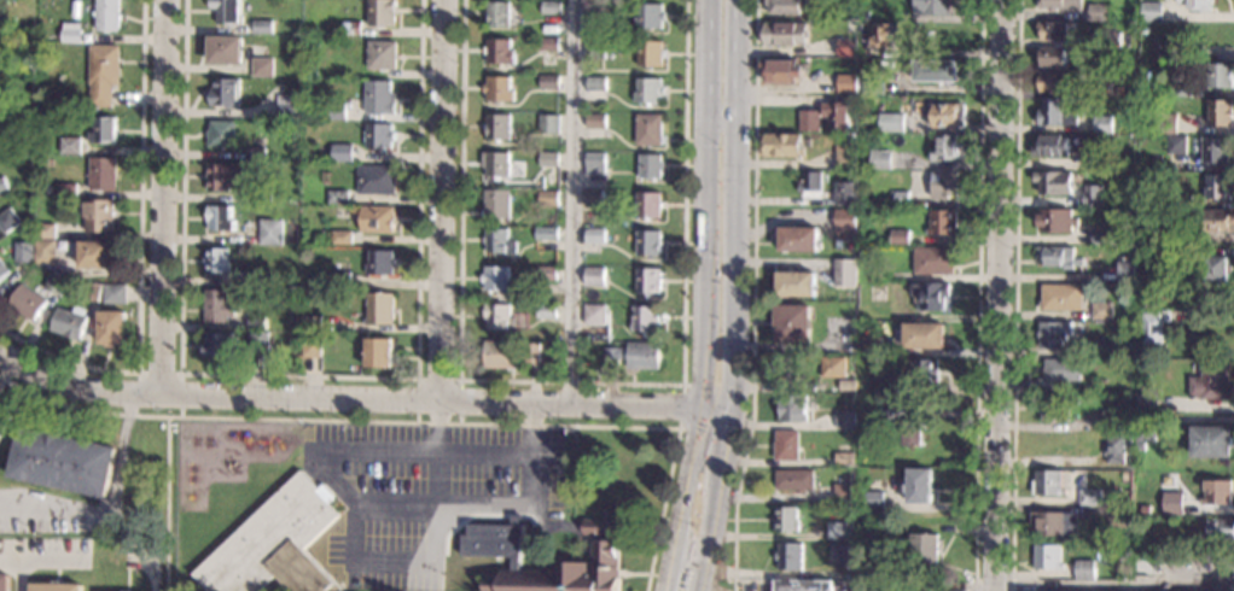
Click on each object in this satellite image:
building: (1060, 4)
building: (1195, 4)
building: (787, 6)
building: (554, 7)
building: (933, 7)
building: (229, 11)
building: (595, 11)
building: (384, 12)
building: (1099, 12)
building: (1152, 12)
building: (501, 14)
building: (110, 16)
building: (866, 16)
building: (652, 17)
building: (266, 27)
building: (354, 28)
building: (1143, 28)
building: (1177, 30)
building: (1057, 31)
building: (74, 33)
building: (786, 34)
building: (881, 34)
building: (1110, 40)
building: (551, 45)
building: (848, 47)
building: (1162, 47)
building: (228, 49)
building: (596, 49)
building: (867, 49)
building: (502, 52)
building: (652, 53)
building: (385, 55)
building: (1052, 57)
building: (1, 58)
building: (264, 66)
building: (1108, 68)
building: (785, 71)
building: (937, 71)
building: (105, 74)
building: (1220, 76)
building: (552, 82)
building: (1054, 82)
building: (598, 83)
building: (848, 83)
building: (874, 84)
building: (501, 89)
building: (1107, 89)
building: (1182, 89)
building: (651, 90)
building: (227, 92)
building: (382, 98)
building: (290, 106)
building: (339, 111)
building: (1221, 112)
building: (1057, 113)
building: (949, 115)
building: (838, 116)
building: (598, 121)
building: (811, 121)
building: (892, 123)
building: (1168, 123)
building: (551, 124)
building: (1104, 124)
building: (501, 127)
building: (651, 130)
building: (106, 131)
building: (223, 134)
building: (382, 135)
building: (782, 145)
building: (1177, 145)
building: (74, 146)
building: (1052, 146)
building: (948, 148)
building: (1216, 148)
building: (344, 152)
building: (258, 153)
building: (845, 156)
building: (551, 159)
building: (881, 159)
building: (1093, 160)
building: (598, 163)
building: (500, 164)
building: (652, 166)
building: (105, 174)
building: (227, 176)
building: (379, 180)
building: (1054, 182)
building: (4, 185)
building: (811, 185)
building: (945, 185)
building: (1218, 186)
building: (52, 189)
building: (69, 189)
building: (261, 193)
building: (846, 193)
building: (1093, 197)
building: (340, 198)
building: (551, 198)
building: (594, 198)
road: (168, 199)
building: (900, 199)
road: (442, 200)
building: (1181, 200)
road: (572, 201)
road: (732, 203)
building: (499, 204)
building: (651, 205)
building: (100, 215)
building: (223, 218)
building: (380, 218)
building: (10, 221)
building: (1055, 221)
building: (1218, 221)
building: (943, 222)
building: (846, 226)
building: (47, 230)
building: (272, 232)
building: (549, 234)
building: (596, 235)
building: (1101, 235)
building: (900, 236)
building: (344, 238)
building: (799, 239)
building: (1113, 240)
building: (501, 241)
building: (650, 242)
building: (27, 252)
building: (47, 252)
building: (99, 254)
building: (1060, 257)
building: (935, 259)
building: (220, 261)
road: (142, 262)
building: (384, 263)
building: (1218, 269)
building: (4, 270)
building: (1127, 271)
building: (846, 273)
building: (546, 274)
building: (595, 276)
building: (256, 279)
building: (499, 279)
building: (344, 280)
building: (650, 281)
building: (59, 283)
building: (797, 283)
road: (703, 285)
building: (95, 291)
building: (117, 293)
building: (874, 293)
building: (931, 294)
road: (1000, 294)
road: (756, 295)
road: (979, 295)
road: (1015, 295)
building: (1061, 297)
building: (29, 303)
building: (1141, 304)
building: (221, 306)
building: (851, 308)
building: (382, 309)
building: (1101, 310)
building: (548, 311)
building: (595, 314)
building: (501, 317)
building: (646, 318)
building: (301, 321)
building: (314, 322)
building: (72, 323)
building: (260, 323)
building: (793, 323)
building: (115, 328)
building: (1153, 328)
building: (925, 334)
building: (1054, 334)
building: (260, 341)
building: (222, 345)
building: (314, 345)
building: (872, 345)
building: (1098, 349)
building: (382, 352)
building: (511, 353)
building: (635, 356)
building: (849, 361)
building: (1090, 363)
building: (1154, 365)
building: (833, 367)
building: (922, 373)
road: (184, 374)
building: (1060, 374)
road: (304, 376)
road: (440, 380)
road: (574, 382)
building: (1212, 382)
building: (848, 385)
building: (895, 388)
road: (360, 402)
building: (1147, 403)
road: (680, 406)
building: (794, 409)
building: (894, 409)
building: (1054, 409)
building: (6, 417)
building: (845, 419)
building: (1111, 420)
road: (418, 423)
building: (1146, 427)
building: (914, 434)
road: (722, 441)
building: (1213, 441)
building: (787, 446)
building: (1118, 447)
building: (1140, 447)
building: (844, 460)
building: (65, 462)
building: (850, 479)
road: (336, 480)
building: (794, 480)
building: (1048, 484)
building: (919, 486)
building: (1218, 492)
building: (843, 493)
building: (1092, 498)
building: (873, 499)
road: (397, 502)
building: (1174, 503)
road: (168, 504)
road: (483, 504)
building: (1184, 508)
road: (112, 510)
building: (1124, 516)
building: (786, 519)
building: (1055, 525)
building: (1222, 529)
building: (838, 531)
road: (705, 534)
building: (871, 536)
building: (277, 544)
building: (1192, 544)
building: (924, 546)
road: (500, 549)
building: (838, 554)
building: (788, 556)
building: (1049, 557)
road: (42, 558)
building: (574, 564)
building: (1087, 570)
road: (21, 574)
road: (668, 579)
building: (5, 583)
building: (802, 585)
road: (1117, 585)
building: (892, 586)
building: (58, 587)

